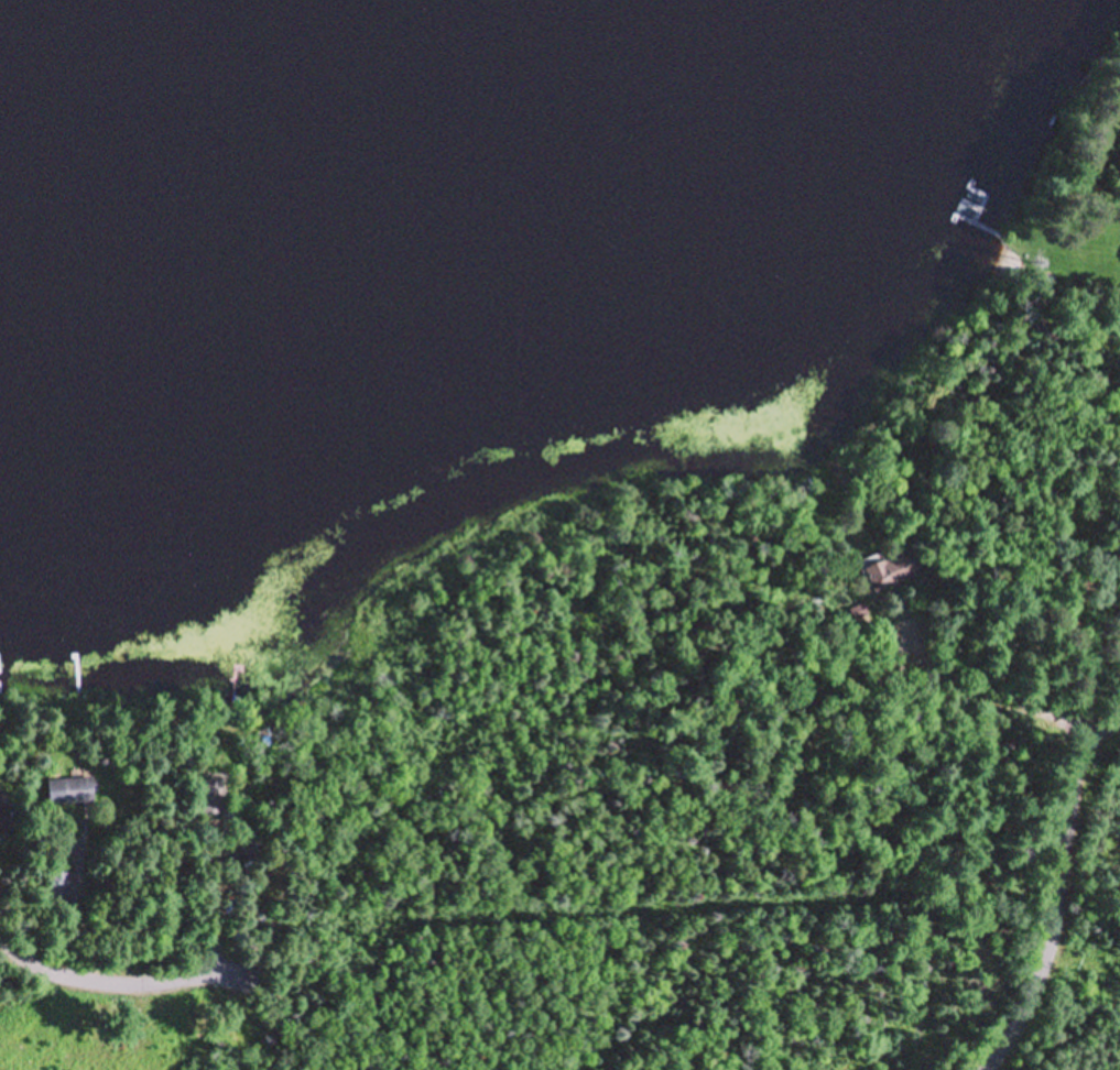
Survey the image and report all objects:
building: (889, 574)
road: (982, 757)
road: (1079, 779)
road: (1099, 790)
building: (72, 793)
building: (209, 798)
building: (4, 818)
building: (61, 889)
road: (1048, 959)
road: (110, 976)

